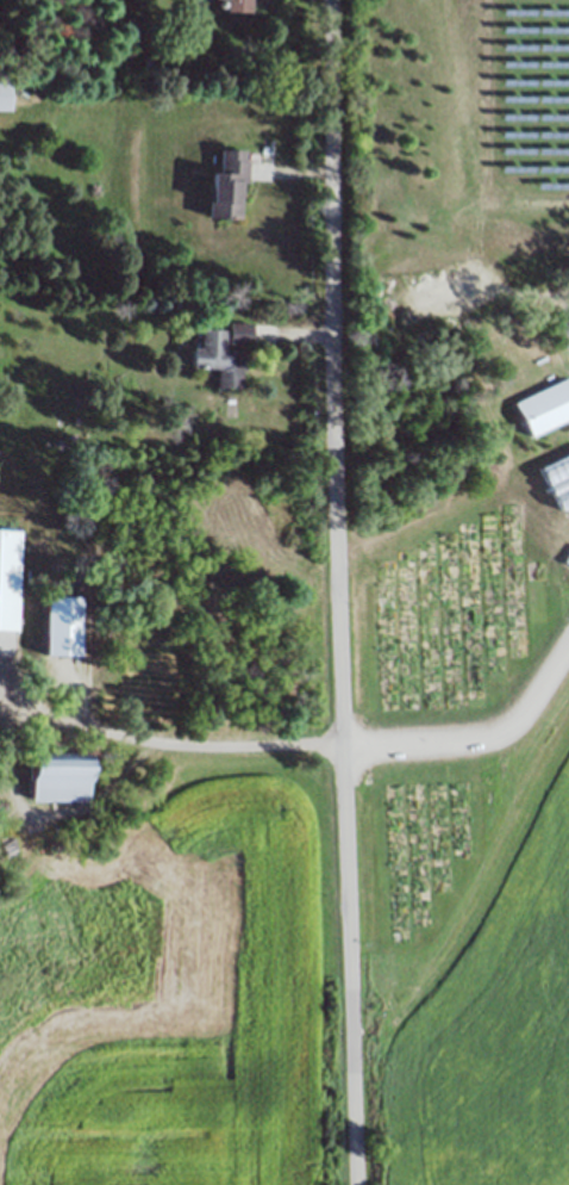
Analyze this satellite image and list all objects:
building: (239, 5)
building: (4, 95)
solar farm: (531, 100)
building: (229, 182)
road: (298, 187)
building: (240, 331)
building: (563, 335)
road: (296, 348)
building: (218, 358)
building: (544, 409)
road: (455, 523)
building: (8, 577)
road: (339, 592)
building: (60, 632)
road: (80, 701)
road: (165, 752)
building: (55, 780)

